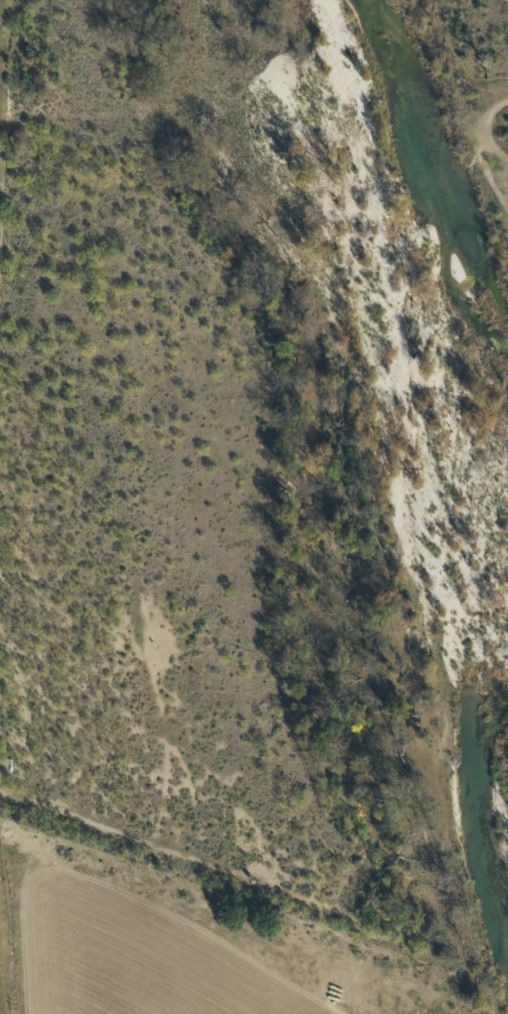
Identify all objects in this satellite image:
river: (427, 152)
river: (490, 847)

